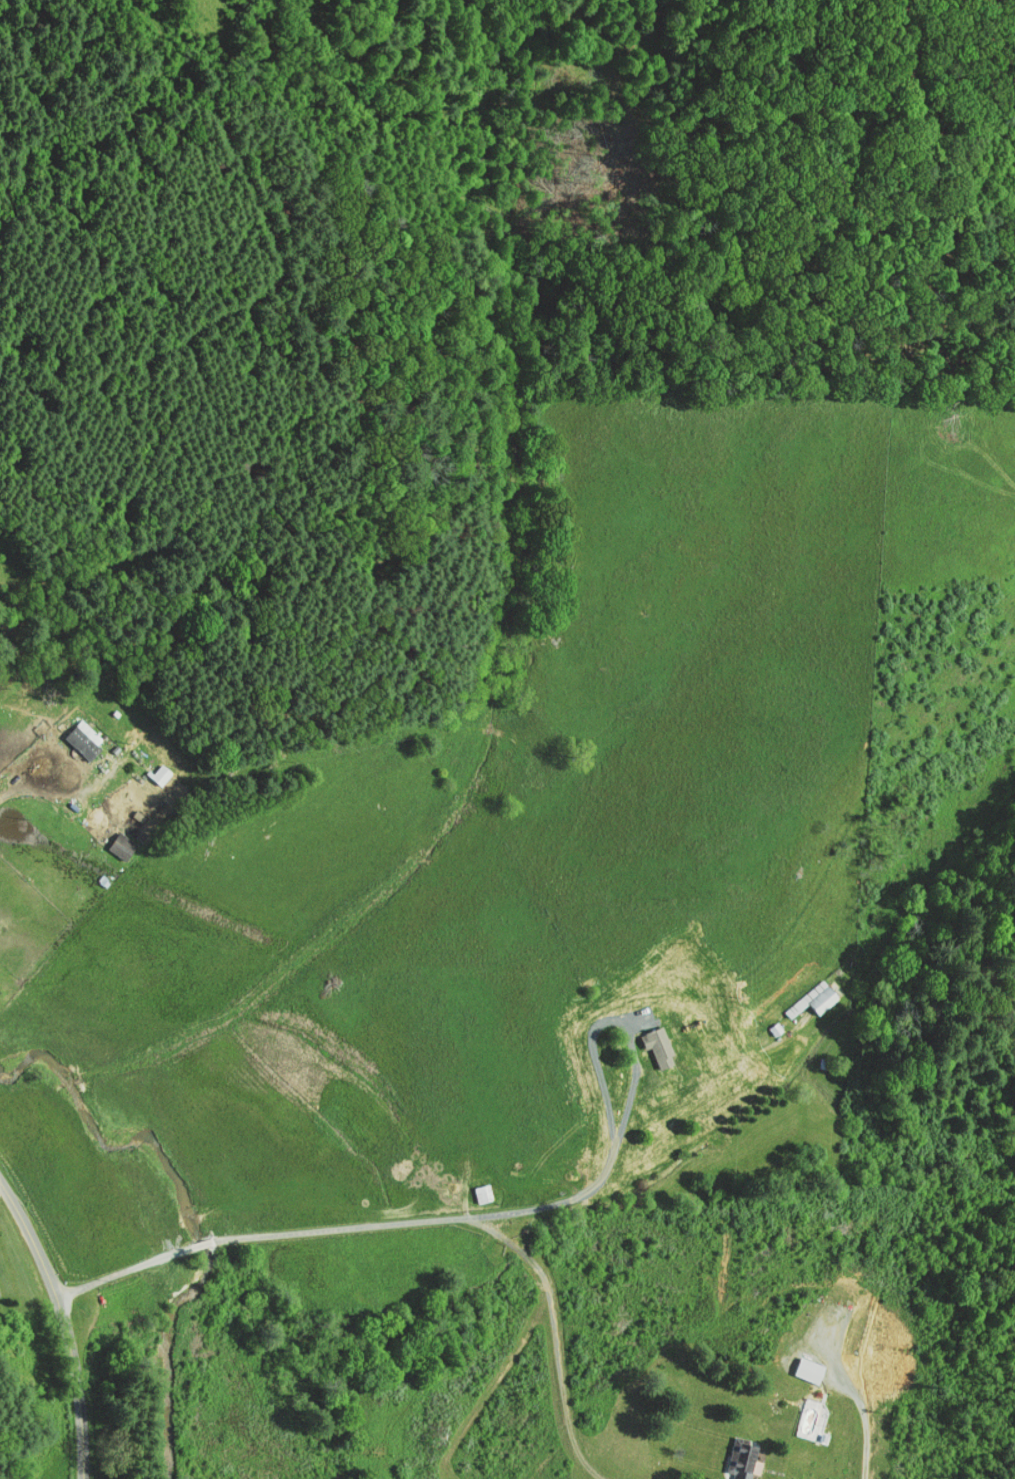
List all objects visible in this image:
road: (876, 99)
road: (59, 793)
road: (652, 1097)
road: (456, 1218)
road: (64, 1323)

